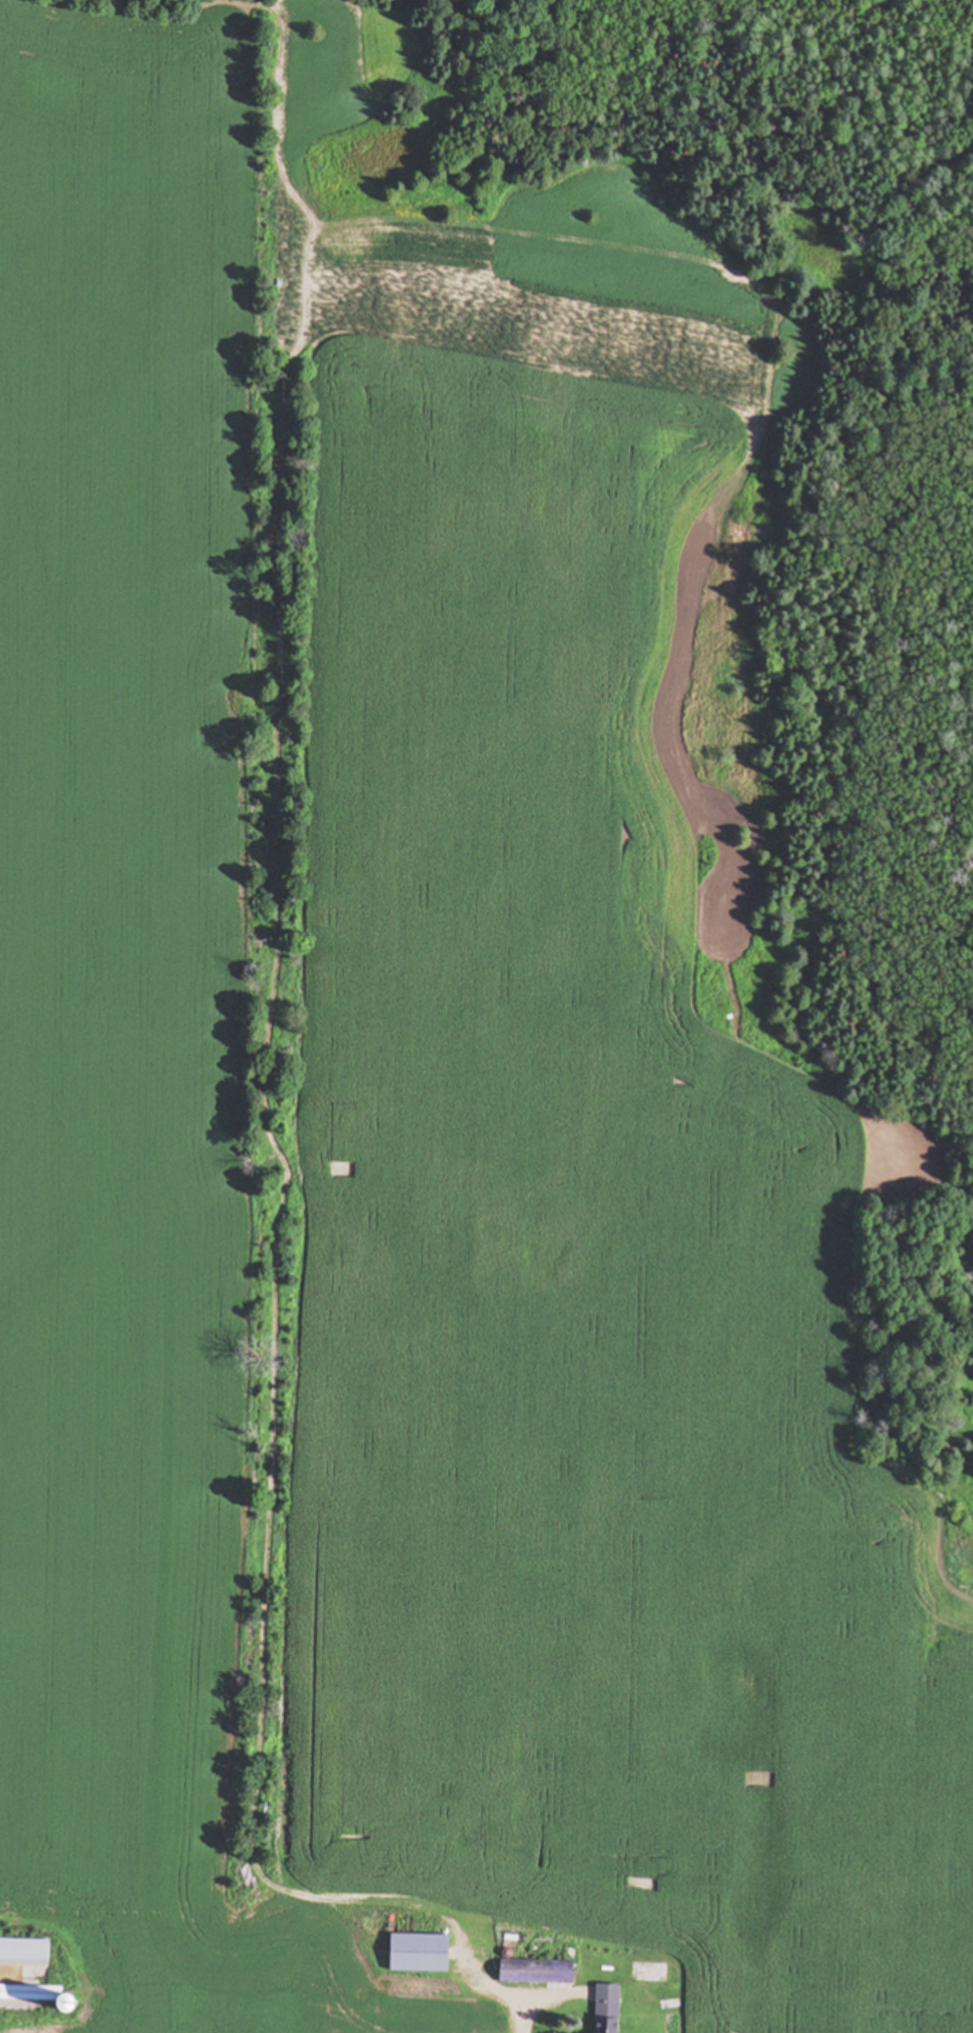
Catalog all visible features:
building: (24, 1953)
building: (405, 1953)
building: (536, 1972)
building: (38, 1996)
building: (608, 2009)
building: (398, 2019)

